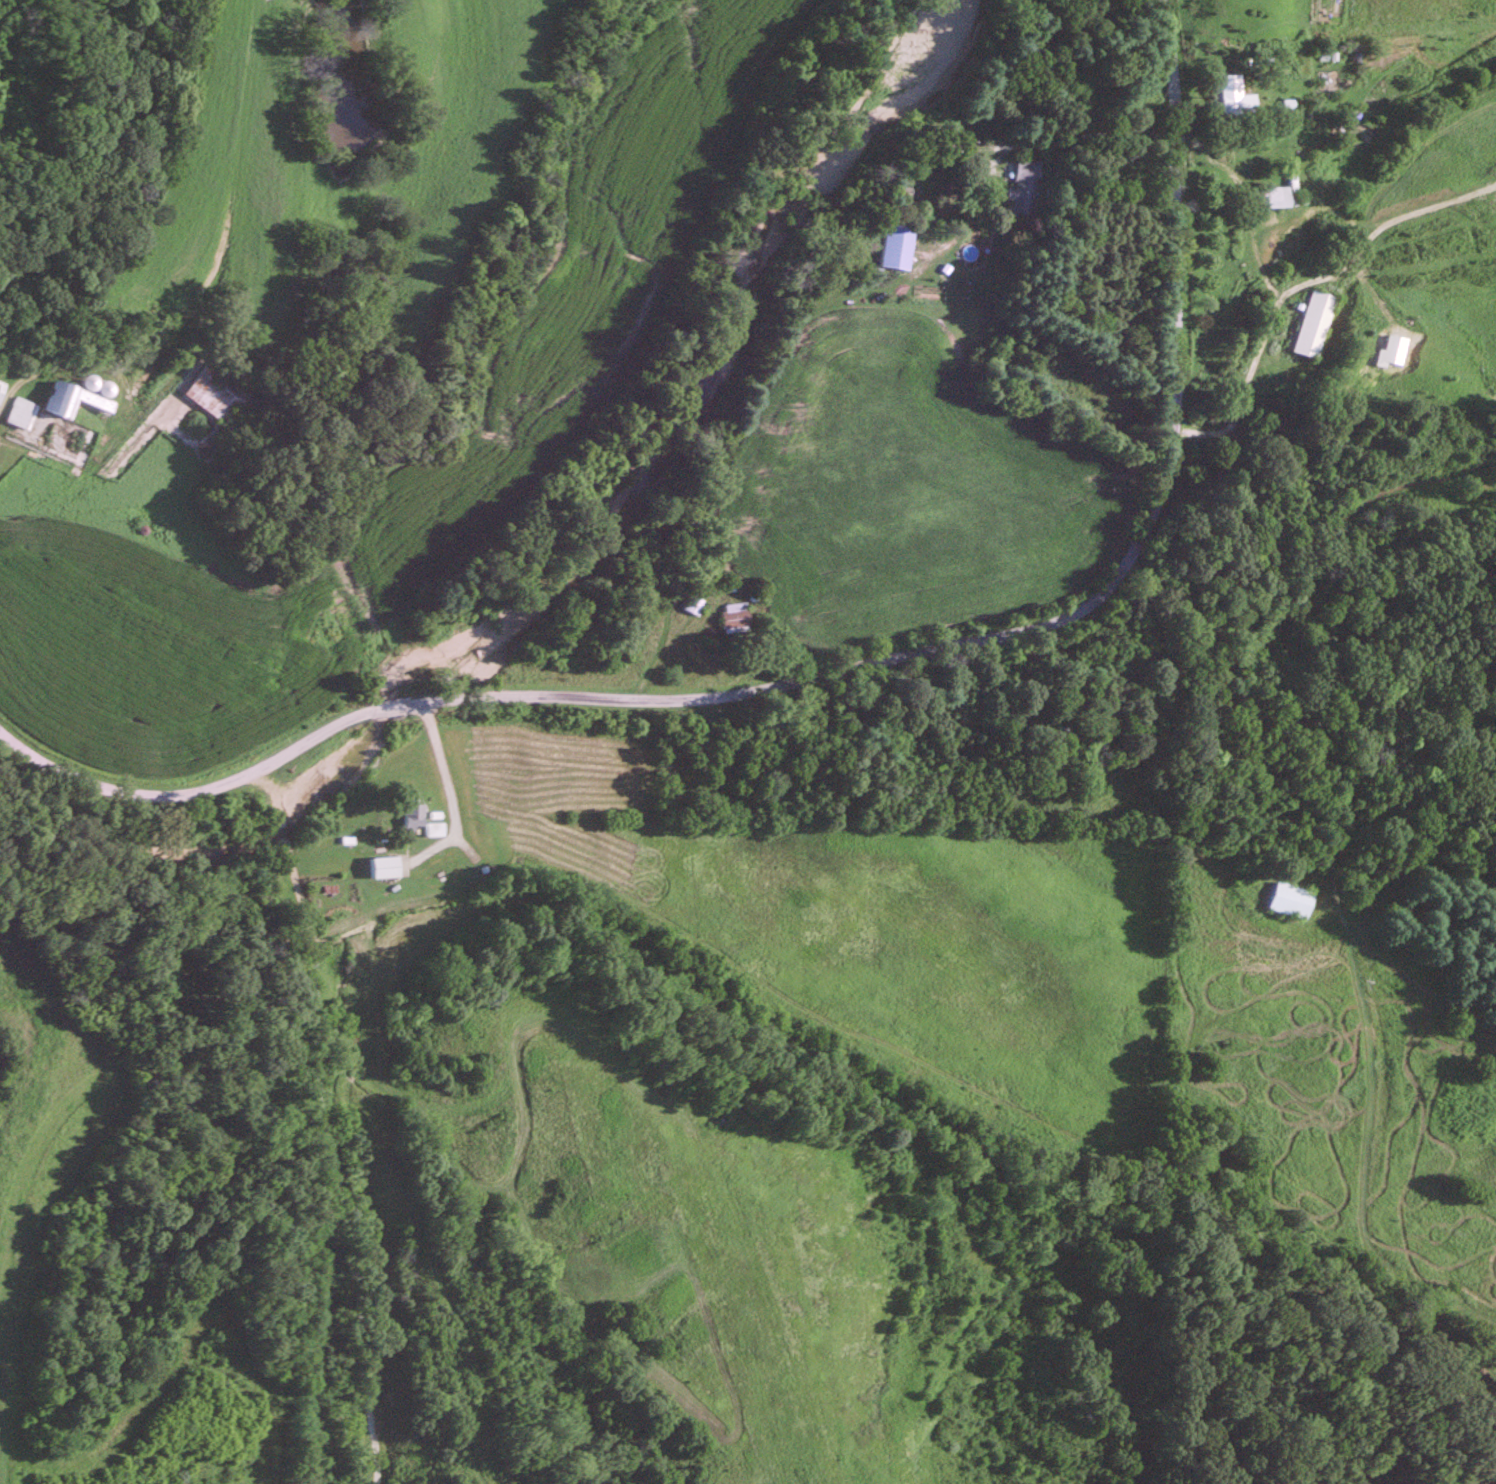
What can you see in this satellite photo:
building: (1236, 96)
building: (1025, 185)
building: (1280, 195)
building: (898, 245)
road: (1174, 293)
building: (1318, 323)
building: (2, 388)
building: (221, 393)
building: (80, 397)
building: (24, 412)
road: (986, 425)
road: (1106, 588)
building: (697, 604)
building: (738, 616)
road: (536, 692)
building: (1057, 735)
building: (415, 813)
building: (436, 827)
building: (391, 864)
building: (1294, 899)
road: (1360, 941)
road: (343, 1115)

